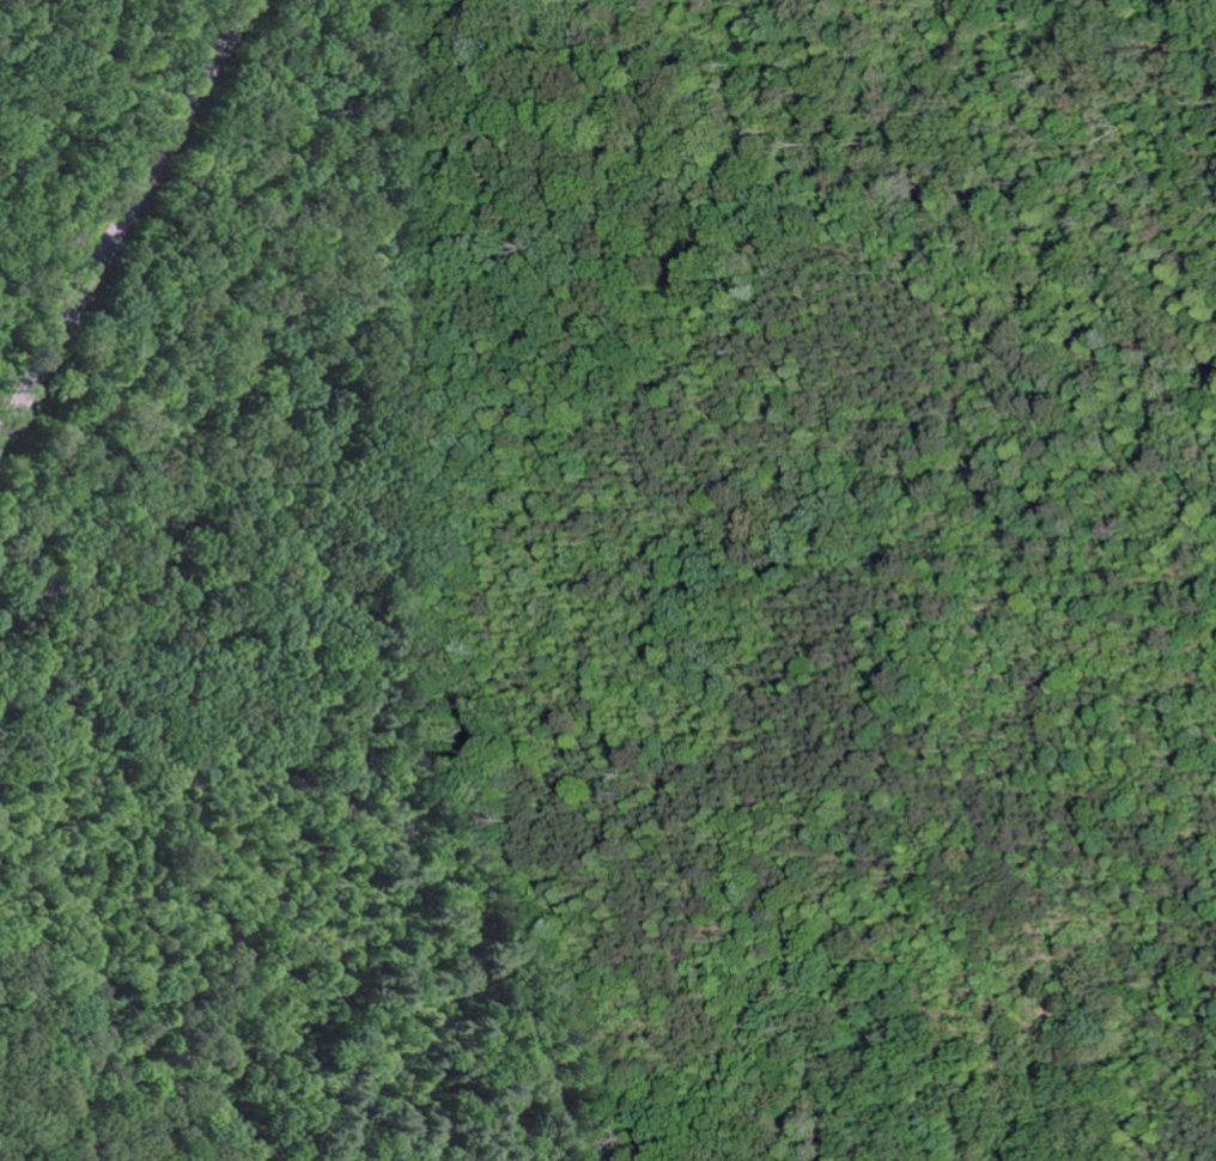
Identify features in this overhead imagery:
road: (124, 218)

